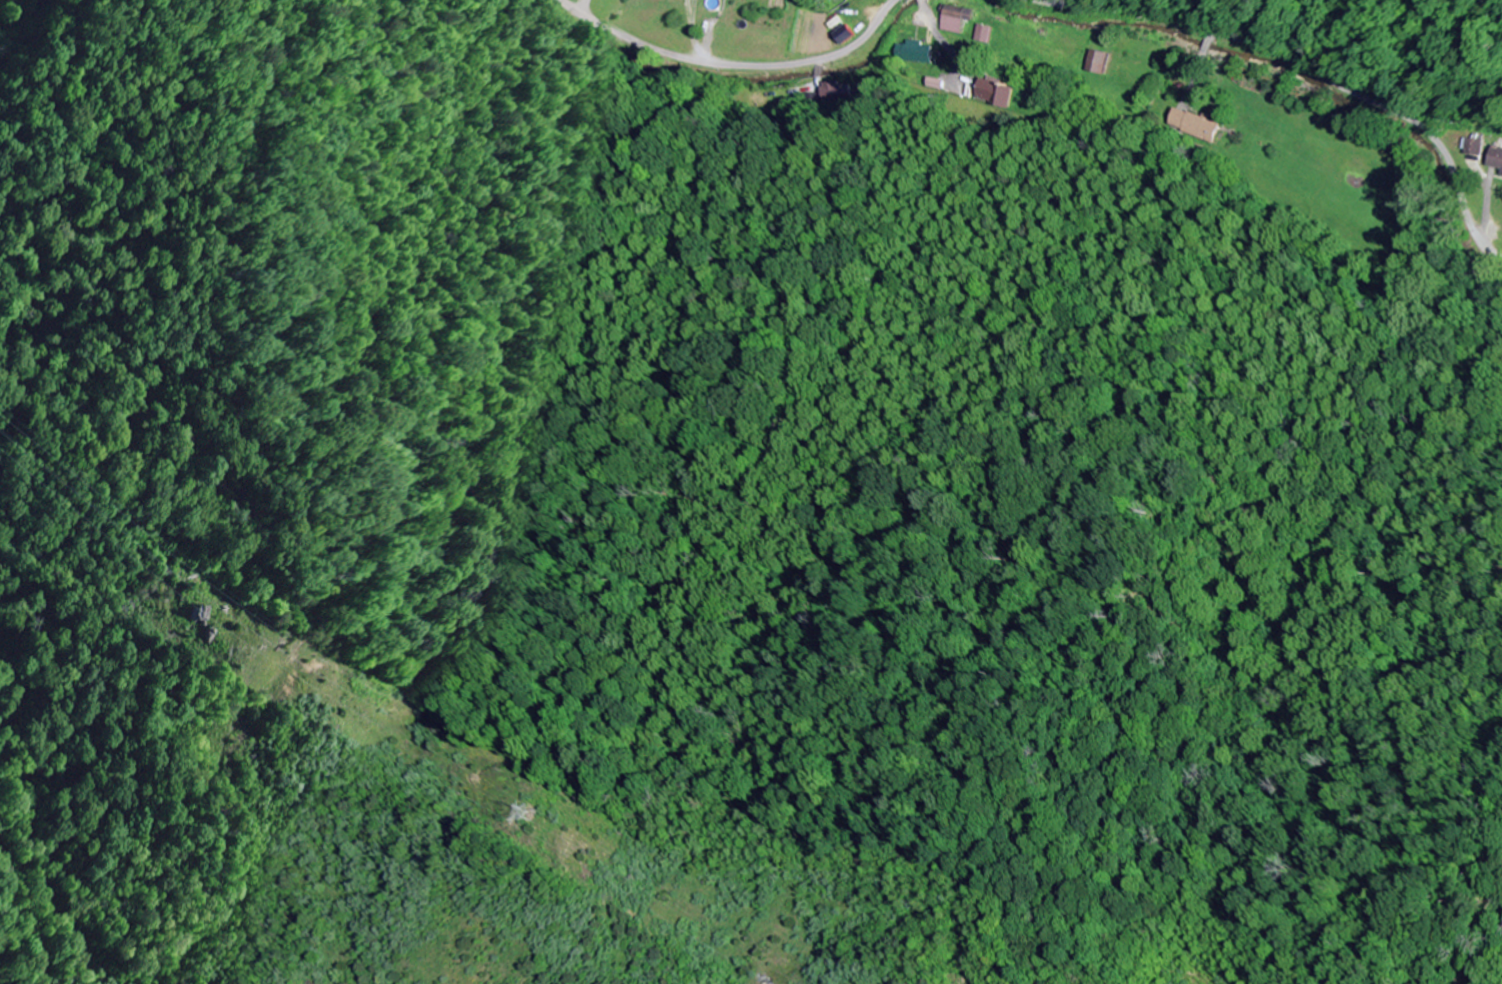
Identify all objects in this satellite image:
road: (591, 15)
building: (961, 24)
building: (843, 36)
building: (912, 54)
building: (1097, 63)
road: (763, 65)
road: (1308, 66)
building: (993, 94)
building: (1193, 125)
building: (1474, 148)
building: (1495, 159)

